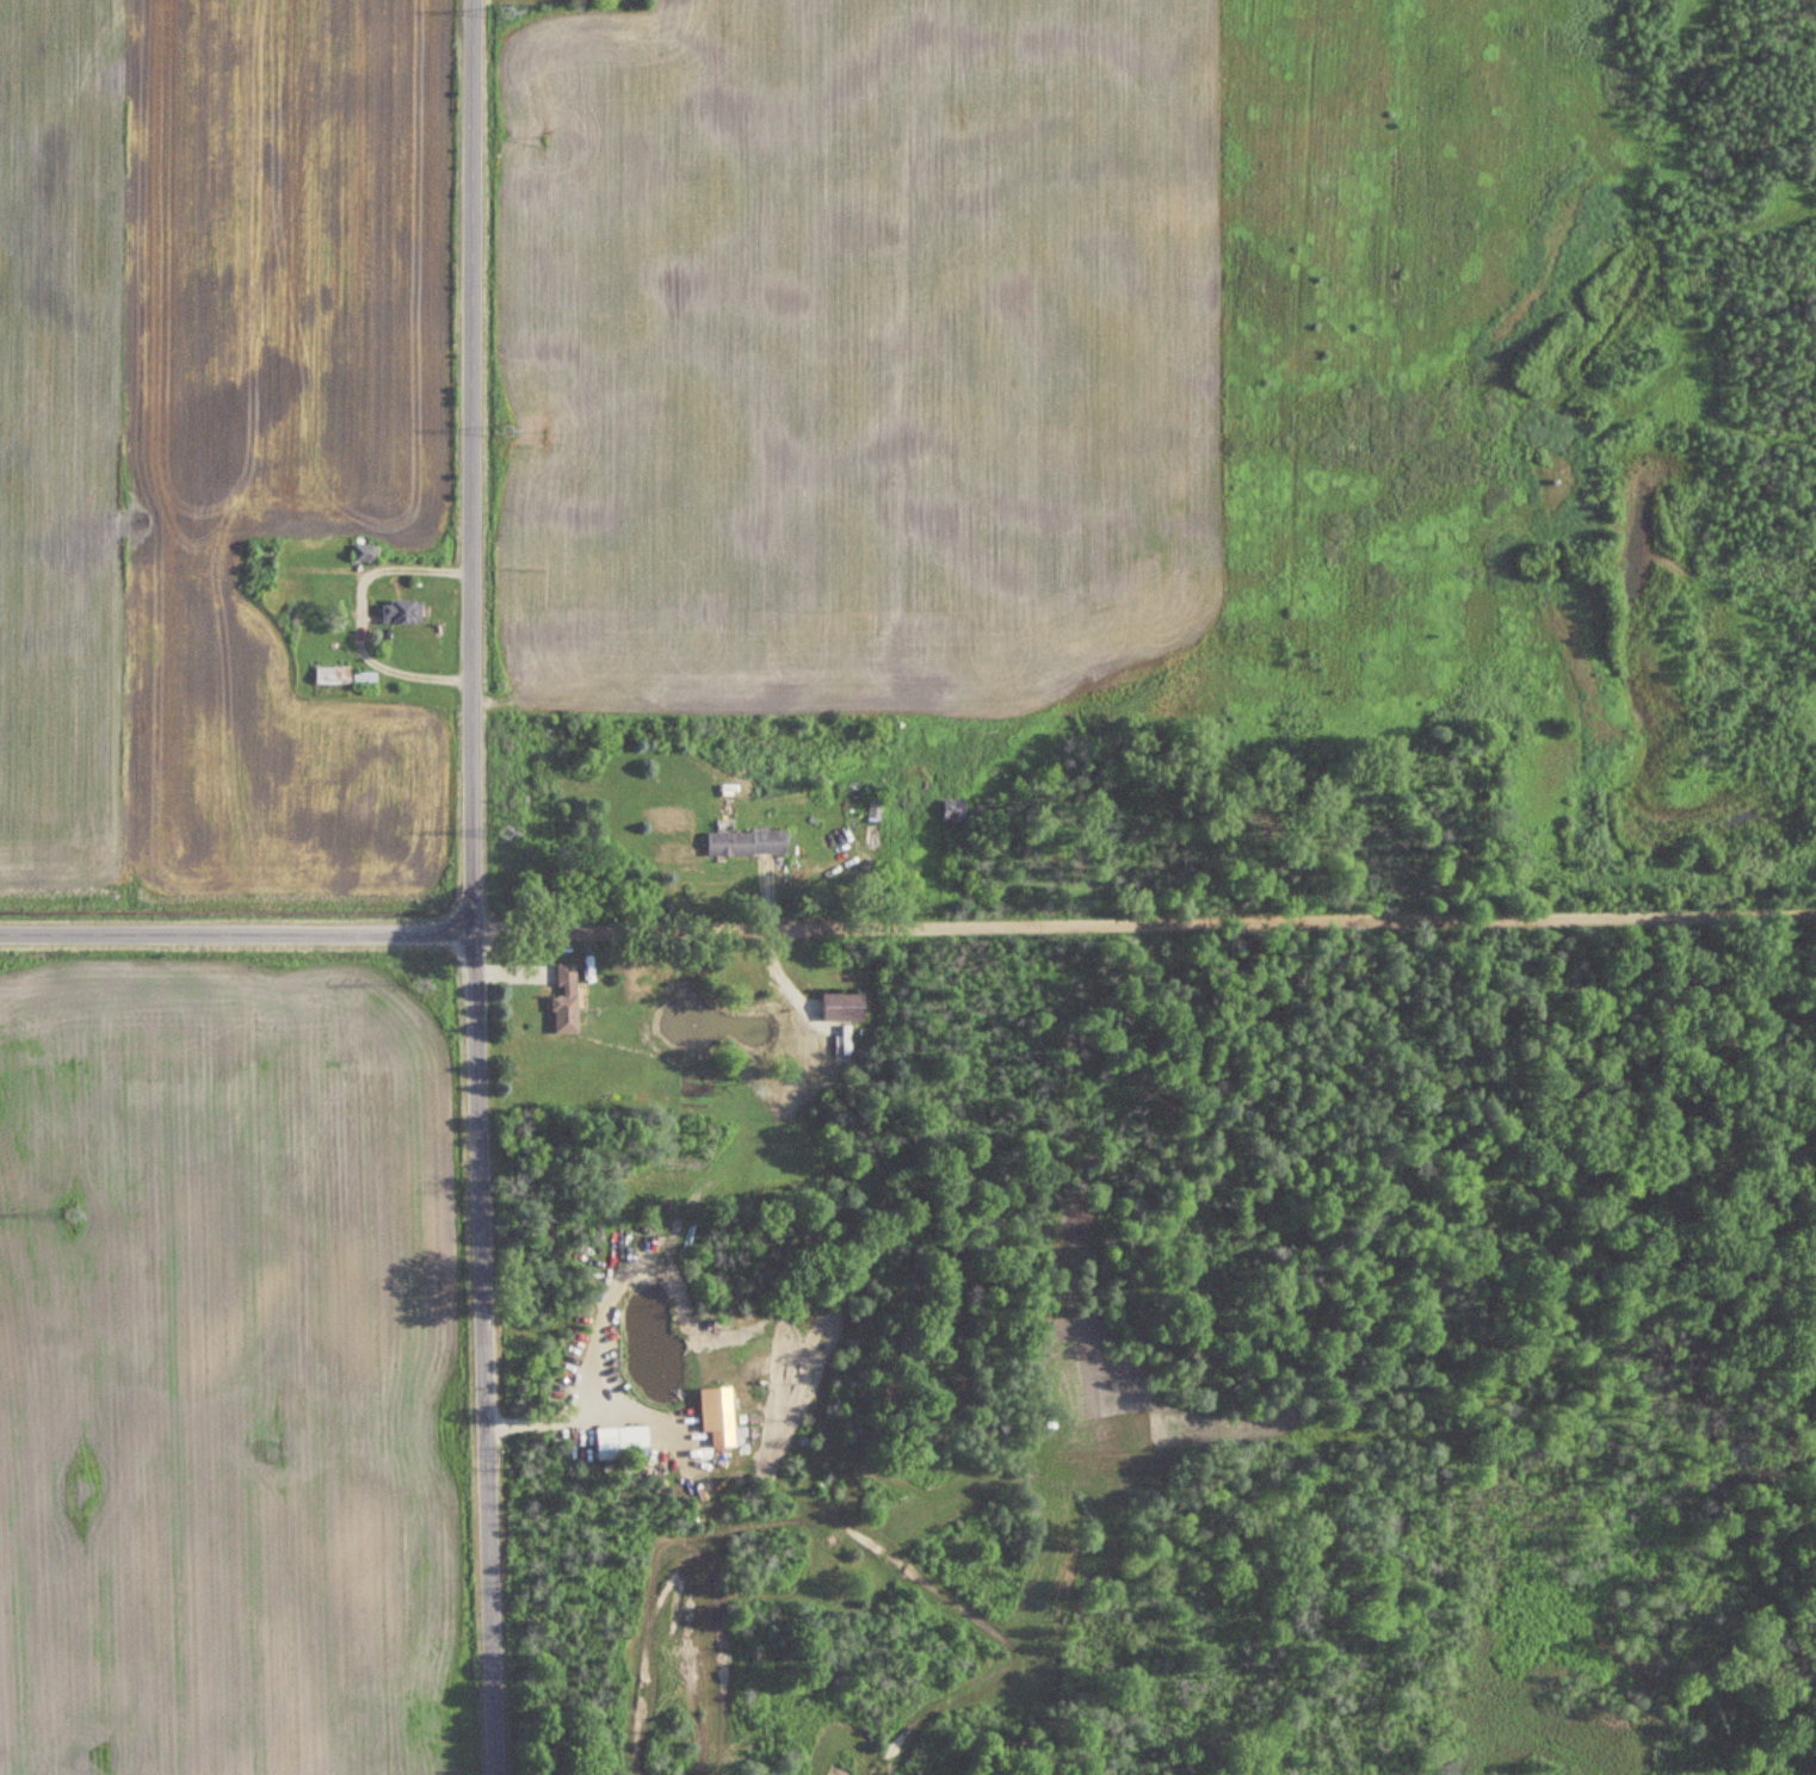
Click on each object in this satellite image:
power tower: (502, 6)
power tower: (502, 429)
building: (362, 552)
building: (258, 565)
building: (399, 611)
road: (362, 620)
building: (350, 676)
building: (947, 810)
building: (871, 811)
building: (742, 842)
road: (475, 887)
road: (908, 926)
power tower: (415, 984)
building: (562, 997)
building: (839, 1007)
power tower: (69, 1217)
road: (588, 1411)
building: (716, 1417)
building: (626, 1436)

